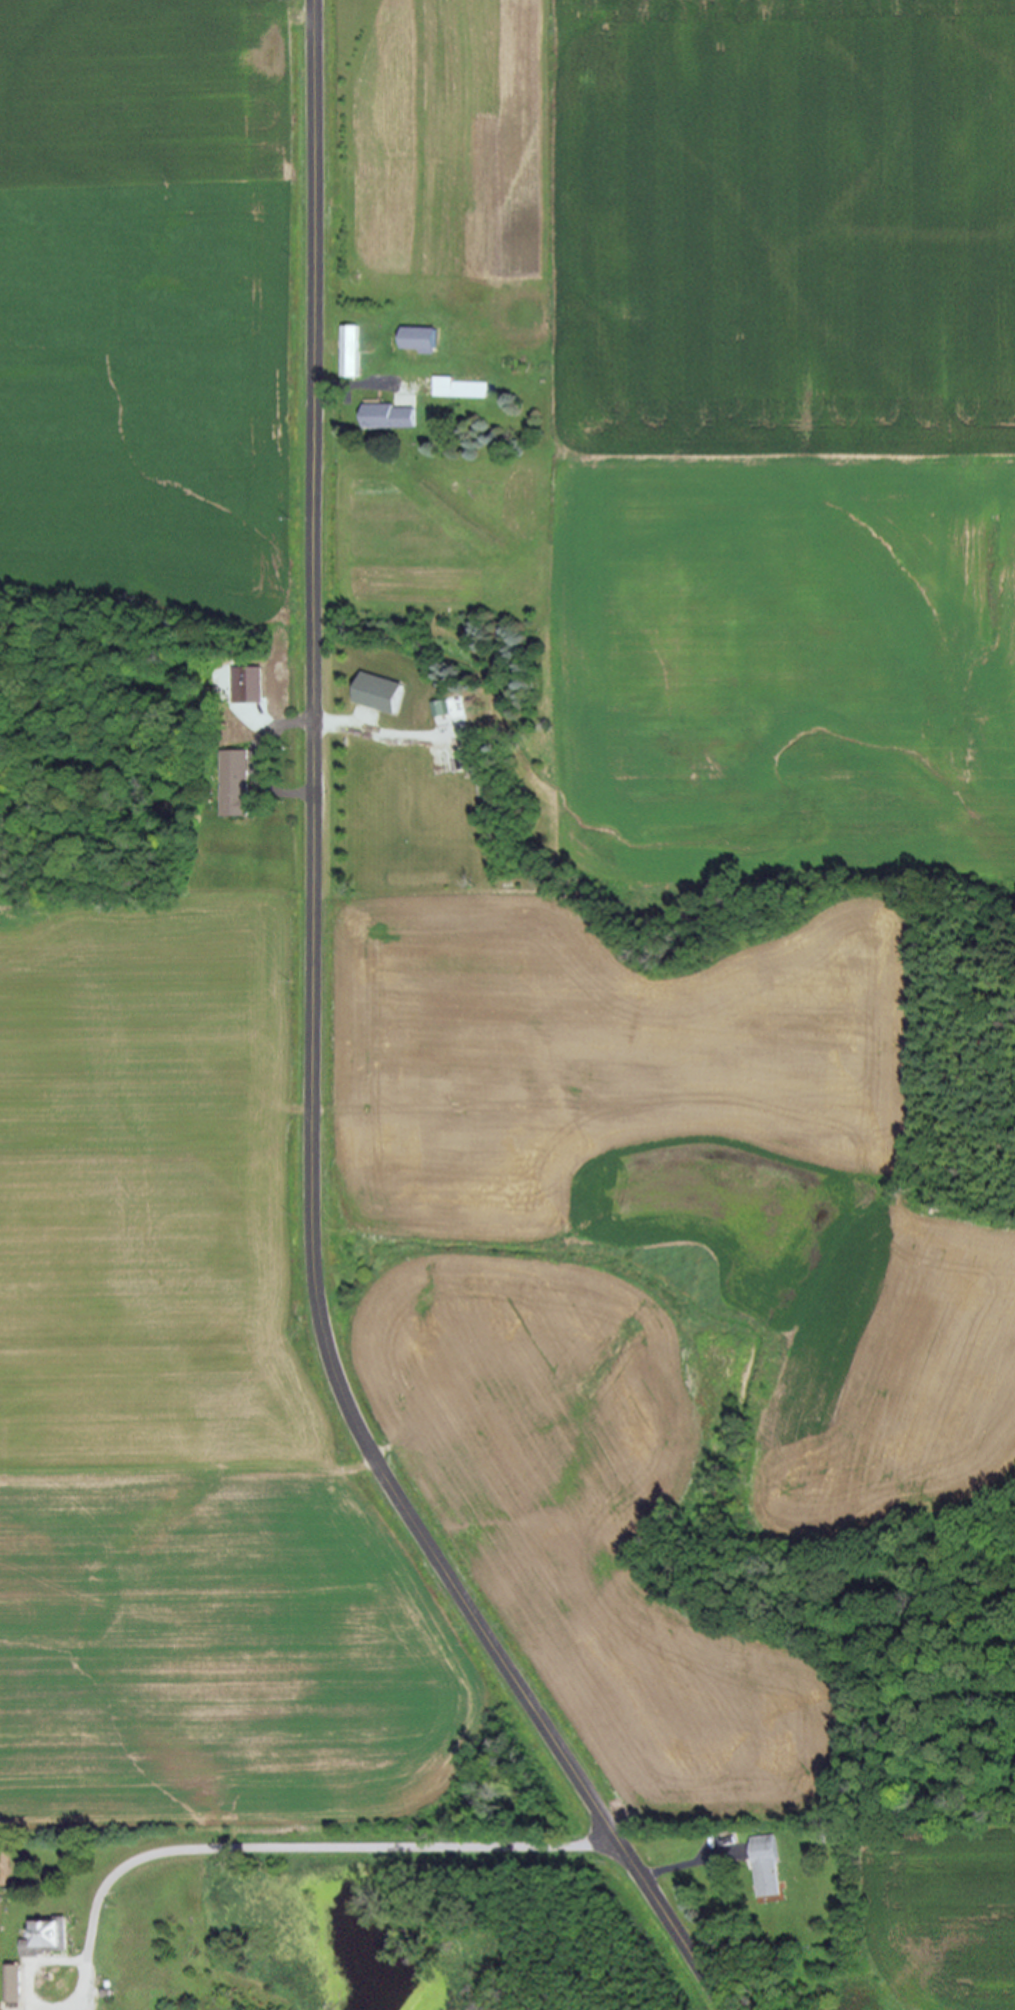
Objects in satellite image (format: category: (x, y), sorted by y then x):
building: (415, 341)
building: (348, 353)
road: (346, 385)
building: (457, 390)
building: (388, 418)
building: (253, 685)
building: (378, 695)
road: (304, 724)
building: (241, 787)
road: (315, 1062)
road: (413, 1845)
building: (762, 1867)
road: (680, 1870)
road: (107, 1890)
building: (52, 1940)
building: (17, 1986)

